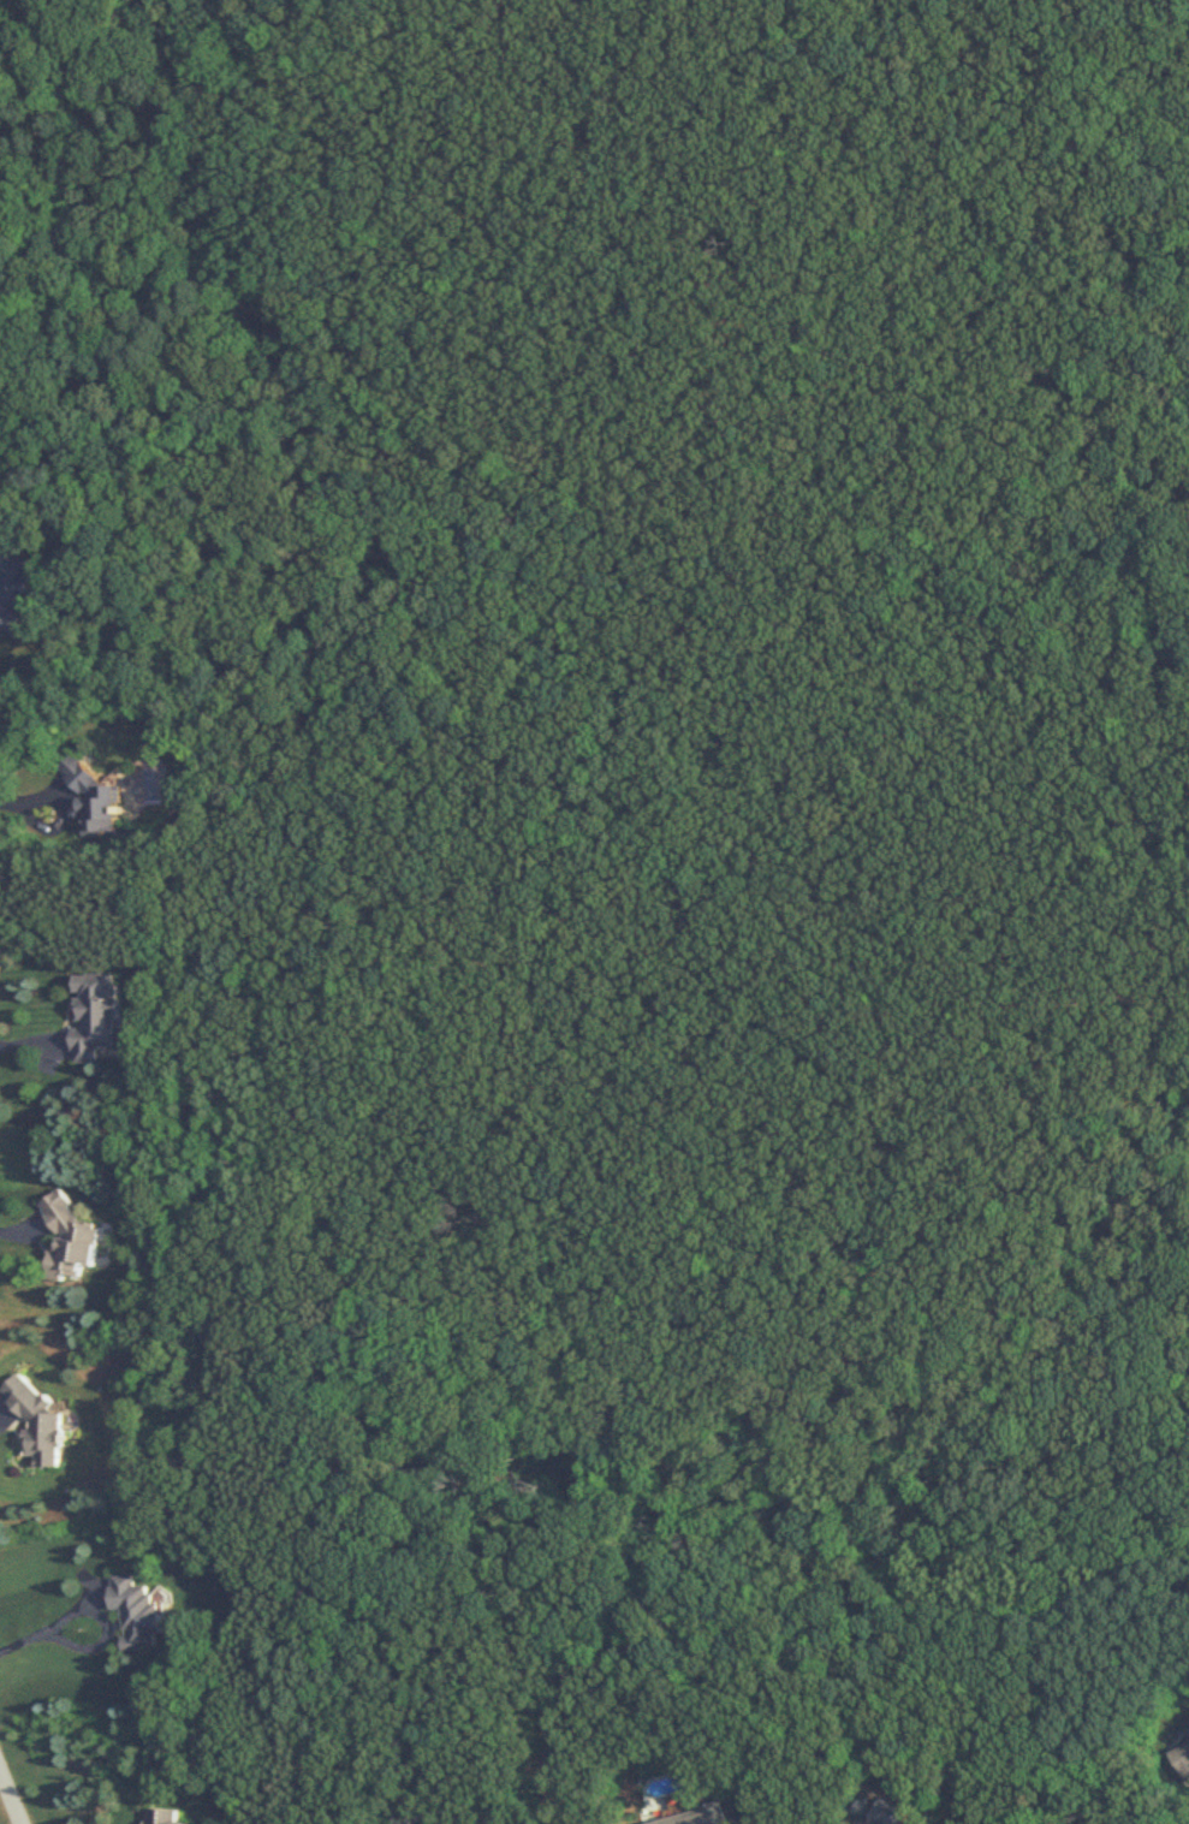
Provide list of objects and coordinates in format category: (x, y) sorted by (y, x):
road: (1126, 49)
building: (0, 382)
building: (14, 593)
road: (755, 622)
park: (718, 679)
building: (99, 801)
road: (1088, 892)
building: (90, 1016)
road: (725, 1079)
building: (65, 1246)
building: (35, 1424)
building: (132, 1612)
road: (44, 1627)
building: (1187, 1734)
building: (1181, 1763)
road: (11, 1794)
building: (878, 1812)
building: (160, 1817)
building: (695, 1818)

